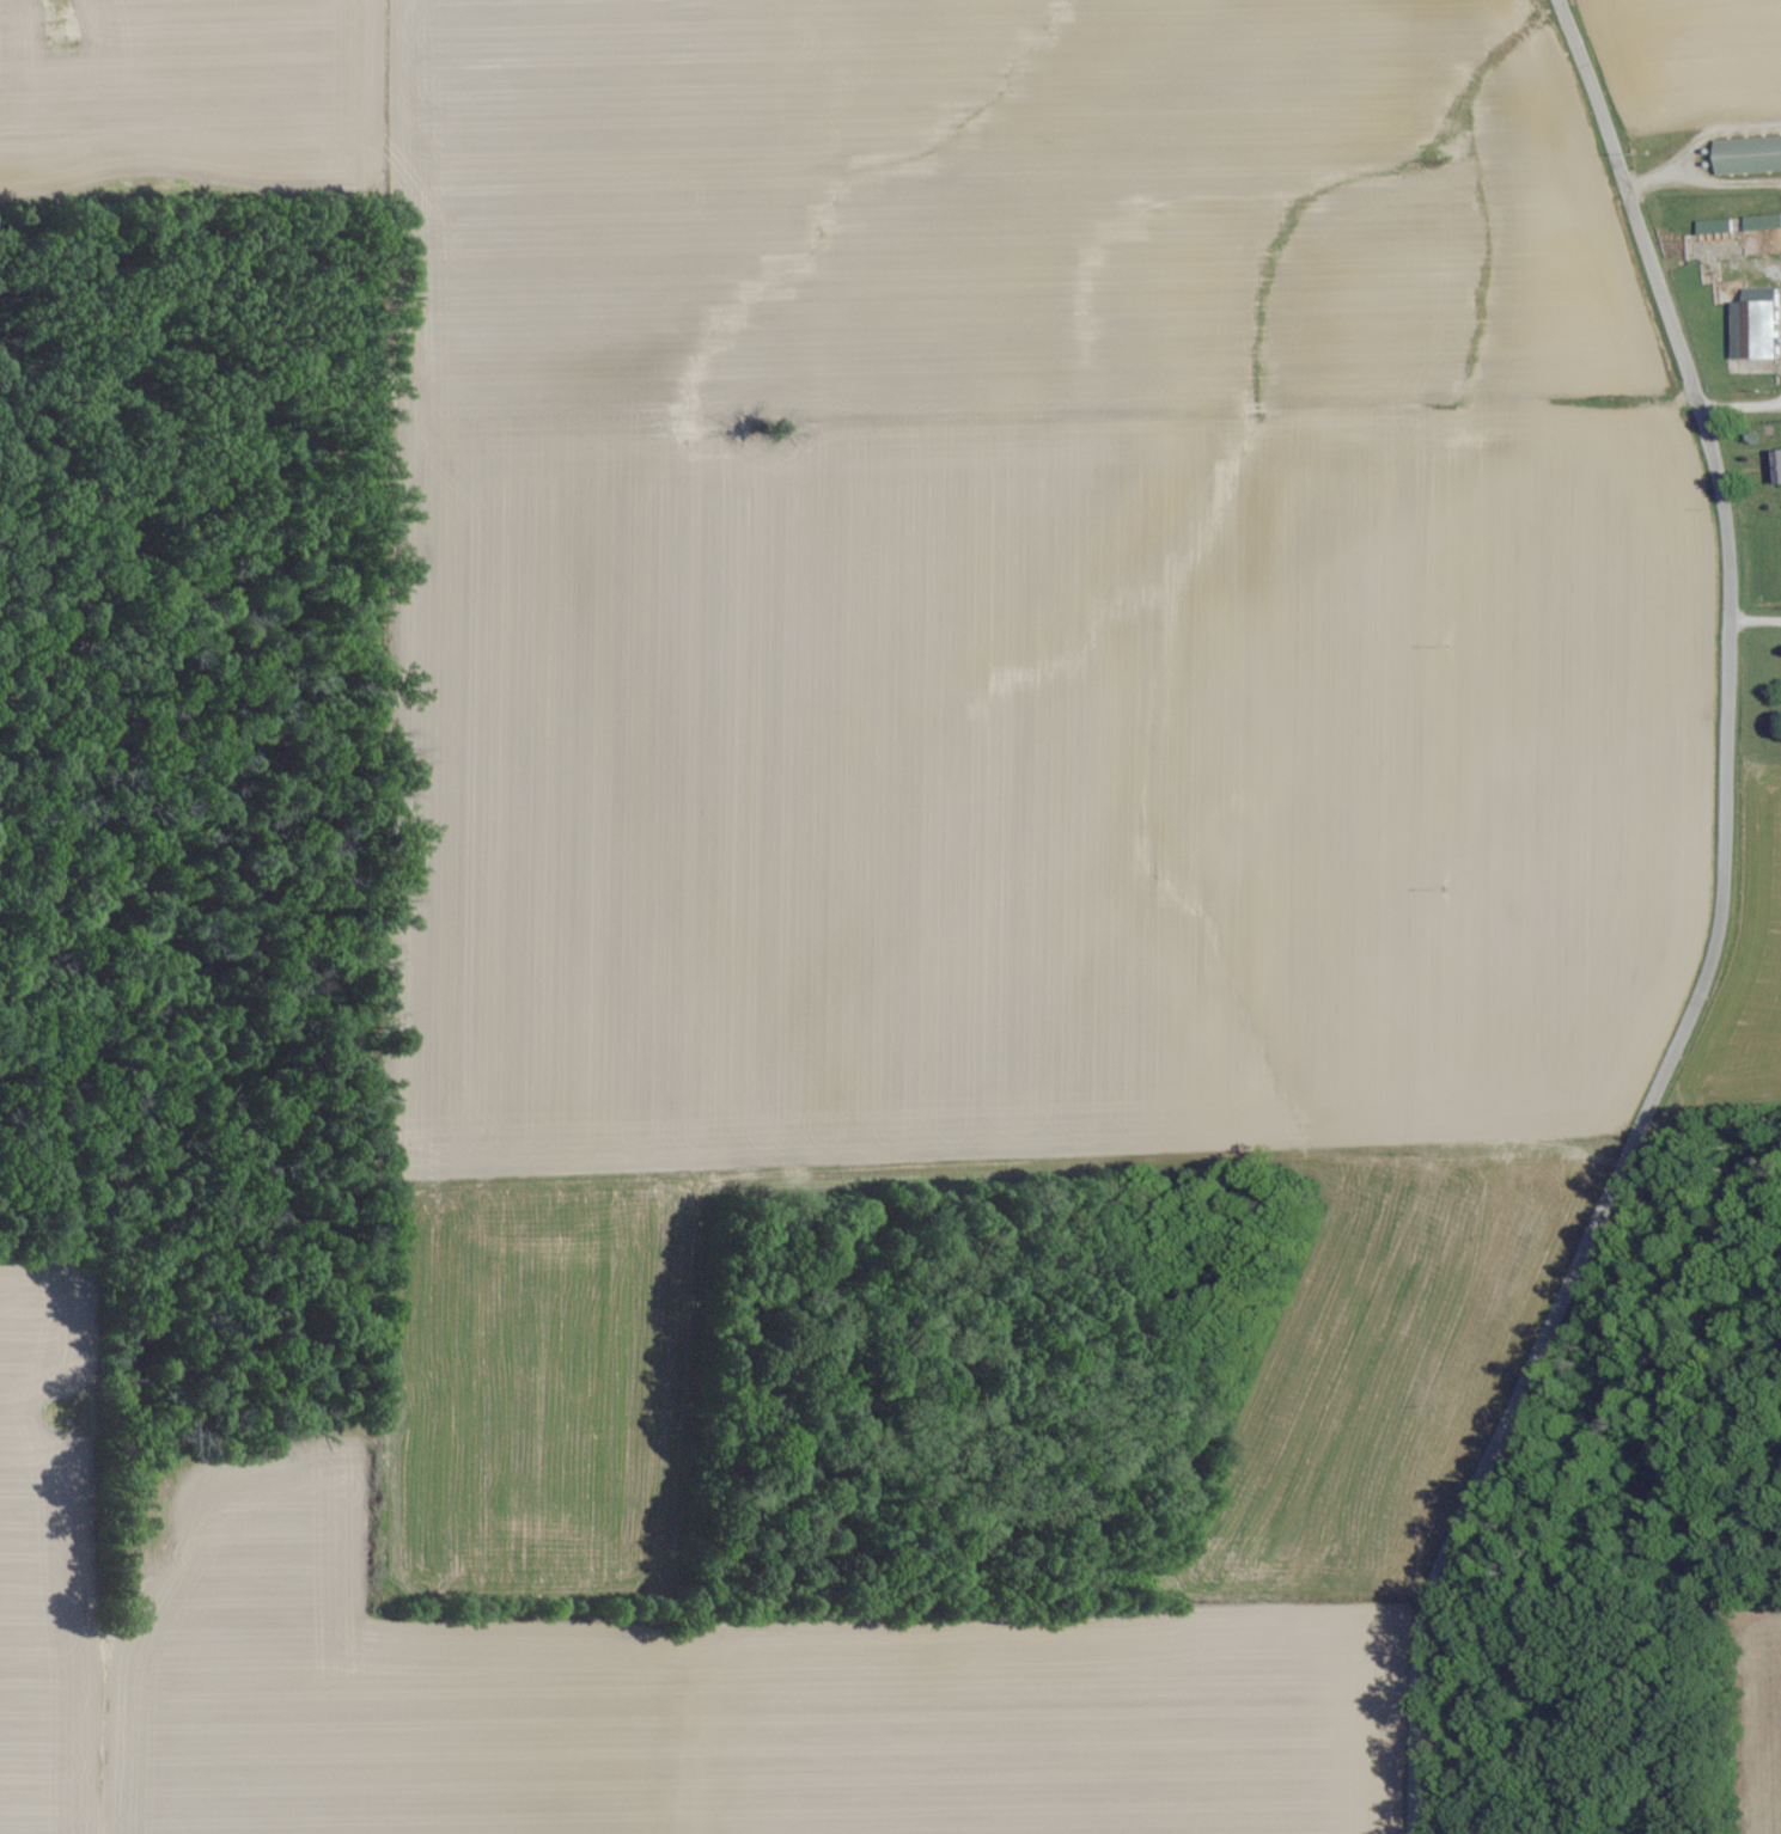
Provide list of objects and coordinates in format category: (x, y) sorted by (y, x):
building: (1746, 155)
road: (1701, 184)
building: (1759, 224)
building: (1709, 227)
building: (1752, 325)
road: (1737, 411)
building: (1776, 467)
road: (1753, 624)
road: (1718, 934)

